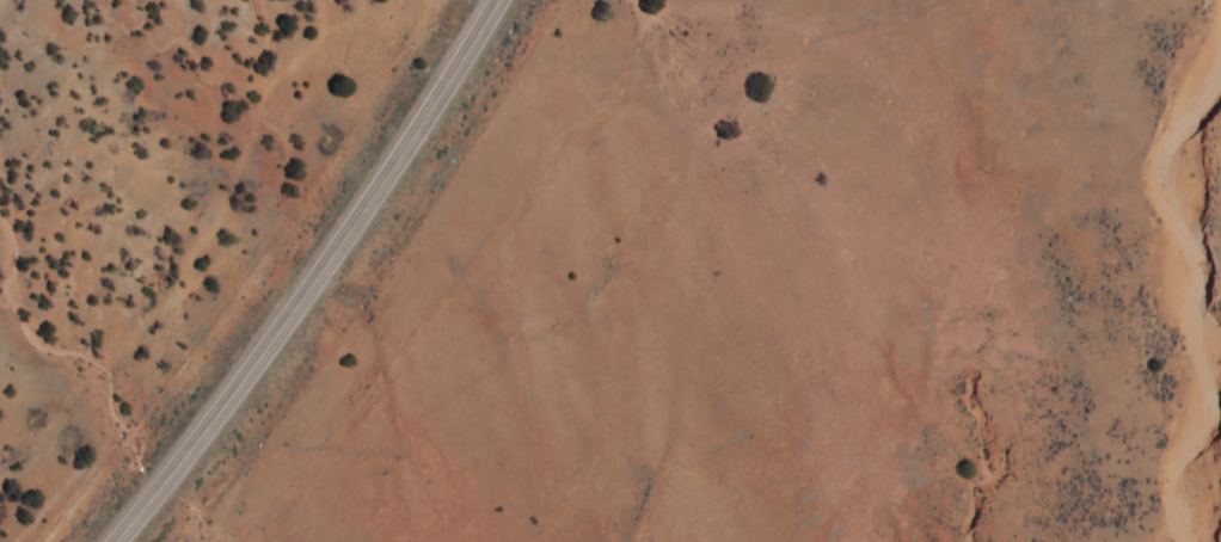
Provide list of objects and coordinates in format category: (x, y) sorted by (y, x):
road: (1214, 107)
road: (306, 273)

